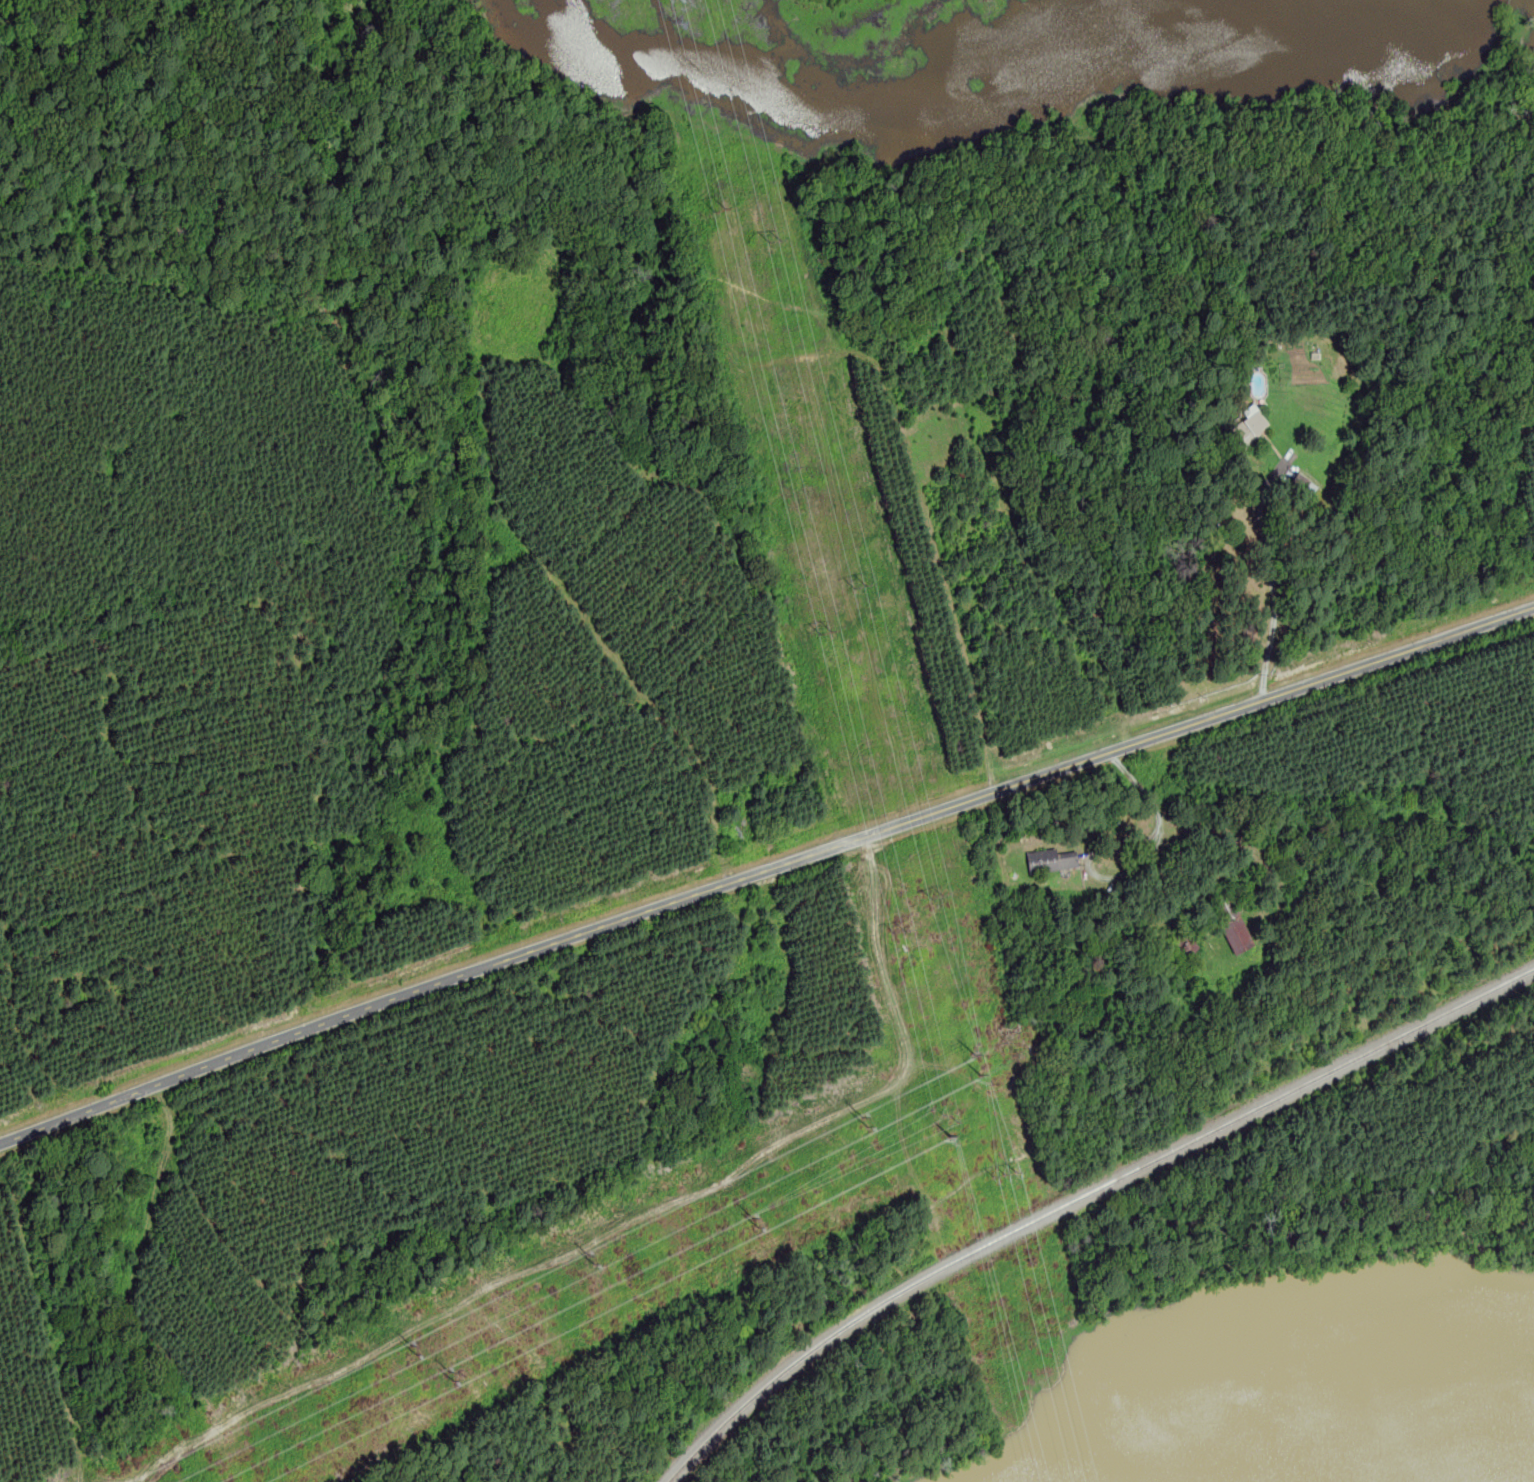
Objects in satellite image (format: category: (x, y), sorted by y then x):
power tower: (702, 142)
power tower: (775, 240)
road: (738, 285)
building: (1250, 427)
road: (1282, 471)
building: (1306, 481)
power tower: (859, 584)
power tower: (826, 632)
road: (1161, 826)
building: (1052, 859)
road: (764, 869)
power tower: (937, 896)
building: (1232, 924)
power tower: (900, 935)
power tower: (977, 1060)
power tower: (945, 1113)
power tower: (865, 1123)
power tower: (947, 1135)
power tower: (1007, 1170)
road: (962, 1181)
railway: (1082, 1197)
power tower: (758, 1222)
power tower: (589, 1252)
power tower: (410, 1343)
power tower: (451, 1375)

